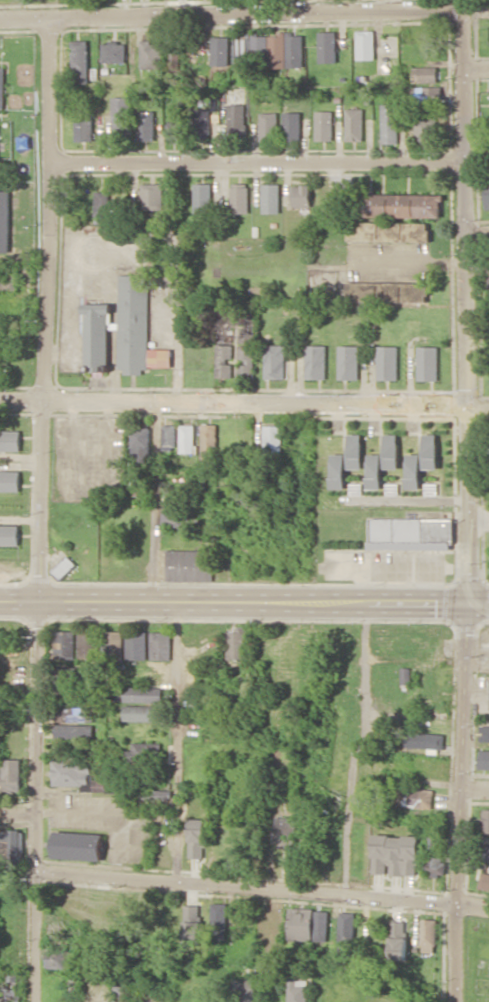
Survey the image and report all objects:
road: (347, 6)
road: (176, 7)
road: (227, 14)
building: (365, 44)
building: (327, 46)
building: (249, 49)
building: (220, 50)
building: (277, 50)
building: (294, 50)
building: (115, 52)
building: (150, 54)
building: (427, 54)
building: (176, 58)
building: (81, 61)
road: (472, 68)
building: (425, 74)
building: (1, 85)
building: (427, 94)
building: (122, 114)
building: (0, 118)
building: (236, 119)
building: (201, 120)
building: (389, 123)
building: (354, 124)
building: (146, 125)
building: (292, 125)
building: (324, 125)
building: (268, 126)
building: (84, 128)
building: (424, 129)
building: (174, 131)
road: (251, 164)
building: (487, 192)
building: (152, 196)
building: (301, 196)
building: (203, 197)
building: (239, 197)
building: (271, 198)
building: (103, 203)
building: (402, 205)
building: (4, 221)
building: (403, 231)
road: (472, 238)
building: (388, 291)
building: (120, 328)
building: (224, 352)
building: (245, 353)
building: (160, 357)
building: (275, 360)
building: (315, 361)
building: (348, 361)
building: (387, 362)
building: (428, 362)
road: (228, 406)
road: (472, 409)
building: (169, 435)
building: (187, 438)
building: (10, 440)
building: (272, 440)
building: (208, 442)
building: (140, 443)
building: (355, 451)
building: (392, 451)
building: (431, 451)
building: (338, 471)
building: (374, 471)
building: (414, 471)
building: (9, 480)
road: (456, 501)
road: (167, 504)
road: (364, 505)
road: (42, 509)
building: (173, 518)
building: (411, 533)
building: (9, 534)
building: (190, 564)
building: (64, 567)
road: (244, 603)
building: (87, 643)
building: (237, 643)
building: (64, 644)
building: (113, 645)
building: (137, 645)
building: (161, 645)
road: (296, 650)
building: (405, 675)
building: (66, 693)
building: (143, 694)
building: (141, 712)
building: (74, 713)
building: (74, 731)
building: (484, 733)
building: (424, 739)
road: (175, 742)
road: (356, 749)
building: (139, 752)
building: (484, 759)
building: (73, 773)
building: (11, 774)
road: (472, 786)
building: (155, 794)
building: (414, 796)
road: (17, 814)
building: (485, 820)
building: (285, 831)
building: (432, 833)
building: (197, 837)
building: (78, 845)
building: (12, 846)
building: (485, 852)
building: (395, 854)
building: (435, 865)
building: (484, 881)
road: (263, 890)
building: (219, 920)
building: (192, 924)
building: (308, 924)
building: (347, 926)
building: (429, 935)
building: (398, 940)
building: (57, 957)
park: (479, 959)
building: (10, 989)
building: (297, 989)
building: (244, 990)
building: (122, 993)

